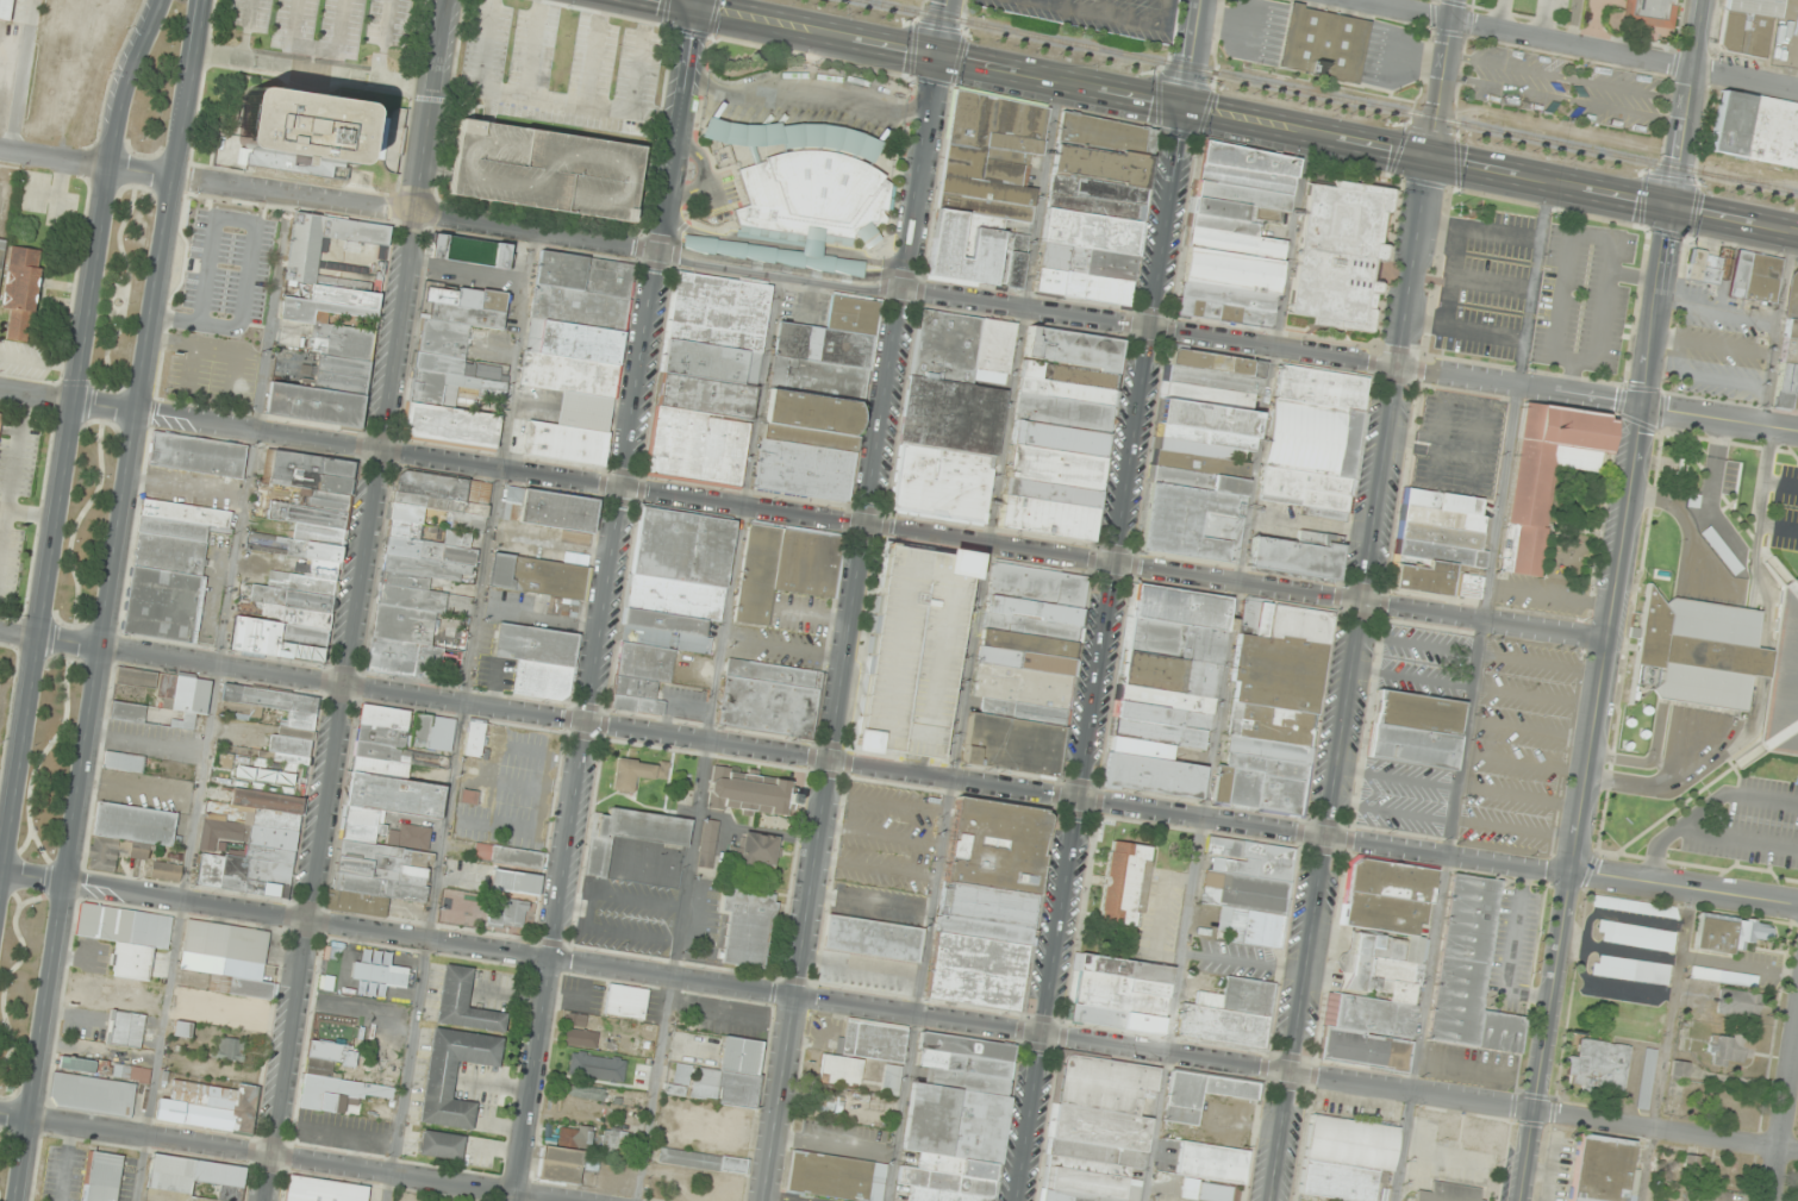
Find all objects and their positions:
road: (676, 5)
road: (699, 5)
building: (6, 10)
traffic signals: (699, 10)
parking lot: (1536, 11)
building: (1647, 11)
road: (1499, 14)
road: (1540, 19)
road: (1571, 21)
building: (1747, 26)
road: (941, 27)
road: (245, 30)
road: (820, 33)
road: (385, 40)
building: (1323, 43)
road: (1571, 44)
road: (317, 45)
road: (1188, 52)
traffic signals: (942, 57)
railway: (11, 69)
road: (307, 69)
road: (1569, 79)
road: (1442, 80)
road: (1061, 81)
parking lot: (1566, 87)
railway: (1330, 95)
road: (1566, 101)
road: (1692, 105)
traffic signals: (1181, 106)
building: (1755, 130)
building: (301, 131)
road: (680, 131)
traffic signals: (1429, 161)
road: (82, 163)
building: (543, 168)
parking garage: (543, 168)
road: (433, 173)
road: (1488, 173)
road: (924, 174)
building: (807, 179)
building: (986, 189)
building: (1093, 208)
road: (414, 209)
traffic signals: (1677, 209)
road: (1165, 217)
building: (1236, 234)
building: (1, 246)
building: (467, 251)
building: (1340, 254)
building: (848, 267)
building: (1705, 268)
road: (783, 271)
building: (582, 274)
building: (1758, 275)
building: (21, 292)
building: (464, 305)
building: (576, 307)
road: (1026, 309)
building: (714, 311)
building: (849, 313)
building: (313, 321)
building: (439, 336)
building: (572, 340)
building: (820, 344)
building: (943, 345)
building: (992, 345)
building: (1070, 348)
building: (1788, 354)
building: (707, 361)
building: (1215, 362)
building: (441, 363)
road: (1397, 369)
building: (567, 374)
building: (1066, 374)
building: (816, 377)
building: (1212, 379)
building: (448, 387)
building: (1317, 387)
building: (1063, 390)
building: (701, 394)
building: (1206, 395)
road: (1465, 398)
road: (64, 402)
building: (581, 411)
building: (810, 411)
building: (1060, 411)
building: (948, 414)
building: (0, 415)
building: (1206, 415)
road: (1722, 417)
road: (73, 418)
building: (448, 425)
building: (1203, 434)
building: (807, 436)
building: (1310, 436)
building: (1056, 437)
building: (562, 443)
road: (1431, 443)
parking lot: (1457, 443)
building: (693, 448)
building: (1197, 448)
building: (198, 455)
building: (1200, 463)
building: (1051, 465)
building: (801, 470)
building: (1544, 475)
building: (1197, 480)
building: (939, 482)
building: (1048, 490)
building: (1304, 490)
building: (1441, 500)
parking lot: (1788, 506)
building: (556, 509)
building: (1044, 517)
building: (1441, 517)
building: (1191, 523)
road: (869, 527)
building: (1440, 534)
building: (661, 543)
building: (707, 550)
building: (307, 552)
building: (1436, 553)
building: (1293, 556)
building: (805, 562)
building: (423, 565)
building: (169, 569)
building: (755, 574)
building: (537, 576)
building: (1422, 577)
building: (1034, 584)
building: (1471, 586)
building: (670, 596)
road: (101, 600)
road: (351, 600)
building: (1178, 606)
building: (1031, 609)
building: (1251, 618)
building: (661, 621)
building: (1296, 623)
building: (1028, 626)
road: (48, 637)
building: (663, 638)
building: (1173, 639)
road: (970, 640)
building: (1024, 643)
building: (532, 644)
road: (1415, 644)
building: (910, 649)
parking garage: (910, 649)
building: (1023, 659)
building: (642, 661)
building: (1724, 661)
road: (1540, 663)
road: (1224, 667)
building: (1274, 670)
building: (770, 673)
building: (1167, 673)
road: (1411, 677)
building: (539, 680)
road: (1348, 681)
building: (1018, 686)
building: (171, 692)
road: (1471, 693)
building: (633, 695)
road: (1535, 695)
road: (213, 696)
building: (1163, 698)
road: (1599, 705)
building: (766, 706)
building: (1020, 711)
building: (1415, 711)
building: (126, 712)
building: (1161, 714)
road: (460, 715)
building: (1268, 724)
building: (296, 726)
road: (581, 726)
building: (419, 730)
road: (1530, 730)
building: (1156, 731)
building: (388, 736)
road: (707, 736)
building: (474, 739)
parking lot: (1477, 739)
building: (1010, 743)
road: (835, 745)
building: (1409, 745)
building: (1137, 746)
building: (1265, 749)
road: (834, 761)
building: (123, 762)
road: (1525, 762)
road: (1081, 764)
road: (920, 765)
building: (1266, 765)
building: (637, 772)
building: (1149, 774)
road: (1394, 777)
building: (1219, 783)
building: (1242, 787)
building: (750, 792)
building: (1278, 794)
building: (469, 796)
road: (1519, 796)
parking lot: (1688, 805)
road: (1390, 812)
road: (1515, 828)
building: (126, 832)
building: (630, 834)
building: (383, 842)
building: (707, 844)
building: (252, 845)
building: (755, 852)
building: (510, 856)
building: (166, 871)
road: (30, 875)
building: (514, 882)
building: (1124, 884)
building: (1248, 889)
road: (1685, 892)
building: (988, 903)
building: (1634, 906)
building: (507, 912)
building: (124, 926)
building: (748, 927)
building: (1728, 933)
building: (1635, 936)
building: (872, 938)
building: (225, 942)
building: (1600, 965)
building: (1379, 967)
building: (1638, 970)
building: (1471, 971)
building: (1723, 977)
building: (1116, 989)
road: (798, 999)
building: (243, 1000)
building: (463, 1002)
building: (625, 1002)
building: (1738, 1003)
building: (1230, 1015)
building: (124, 1028)
building: (182, 1028)
building: (579, 1033)
building: (872, 1040)
road: (1666, 1046)
building: (230, 1049)
building: (1730, 1050)
building: (326, 1057)
building: (1599, 1066)
building: (104, 1068)
building: (839, 1070)
building: (452, 1074)
building: (730, 1075)
building: (679, 1078)
building: (1646, 1078)
building: (336, 1093)
building: (1201, 1093)
building: (92, 1094)
building: (825, 1103)
building: (208, 1106)
road: (12, 1114)
building: (957, 1120)
road: (1786, 1127)
building: (1095, 1130)
road: (1667, 1130)
building: (574, 1136)
building: (441, 1144)
building: (1347, 1158)
road: (302, 1159)
building: (703, 1161)
building: (560, 1164)
building: (1690, 1164)
building: (1600, 1169)
building: (1210, 1170)
building: (101, 1176)
building: (835, 1176)
building: (195, 1178)
building: (323, 1190)
building: (1449, 1193)
building: (1705, 1195)

